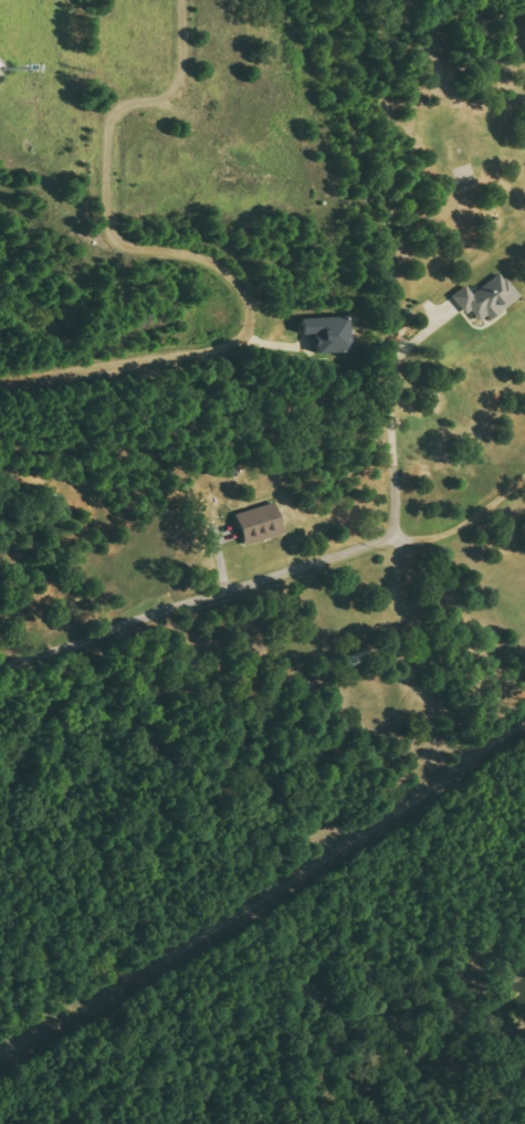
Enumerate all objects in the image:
building: (487, 298)
building: (329, 334)
building: (262, 523)

